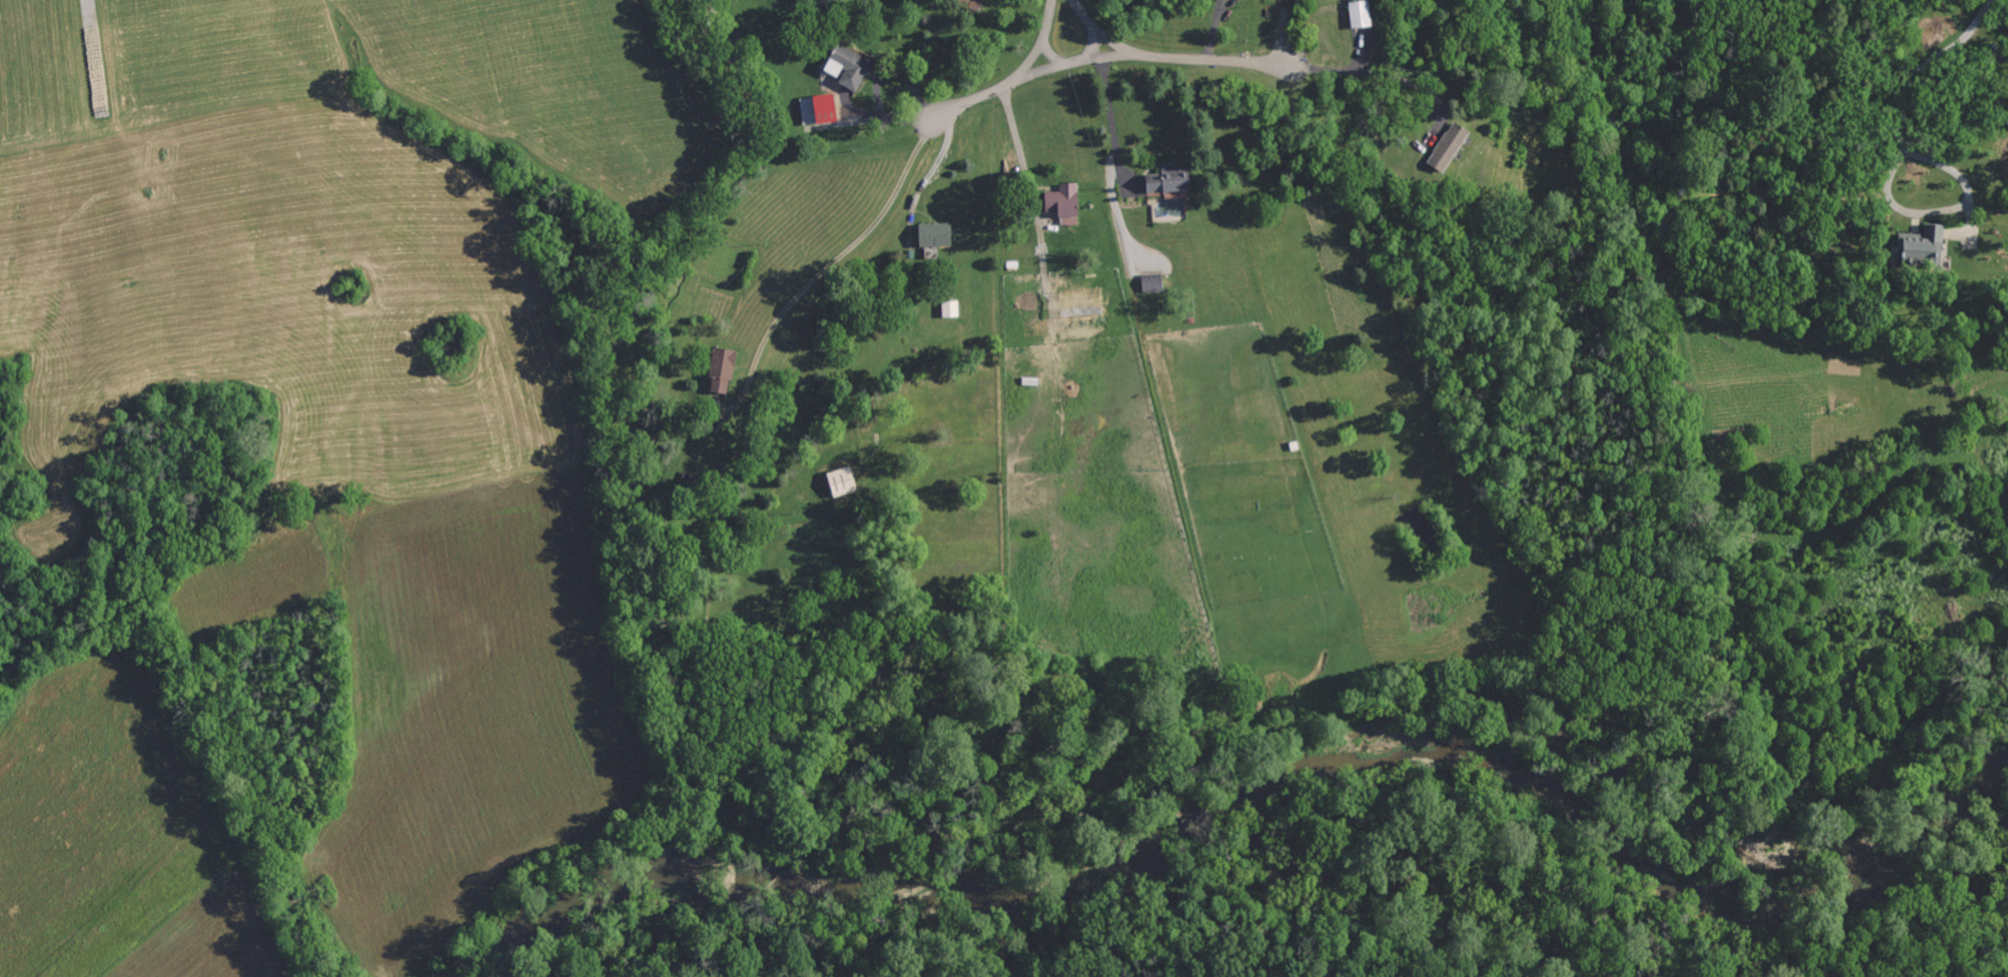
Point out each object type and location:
building: (965, 4)
building: (1355, 14)
road: (1086, 16)
road: (1047, 23)
road: (1118, 57)
road: (1930, 59)
road: (1190, 60)
road: (1075, 64)
building: (843, 68)
road: (1334, 71)
road: (1035, 75)
road: (996, 90)
building: (818, 109)
road: (1107, 115)
road: (1014, 139)
building: (1443, 148)
building: (1163, 181)
building: (1059, 204)
road: (1943, 207)
building: (929, 235)
building: (1916, 248)
road: (837, 261)
building: (1148, 283)
building: (946, 309)
building: (716, 370)
building: (836, 481)
river: (1252, 808)

